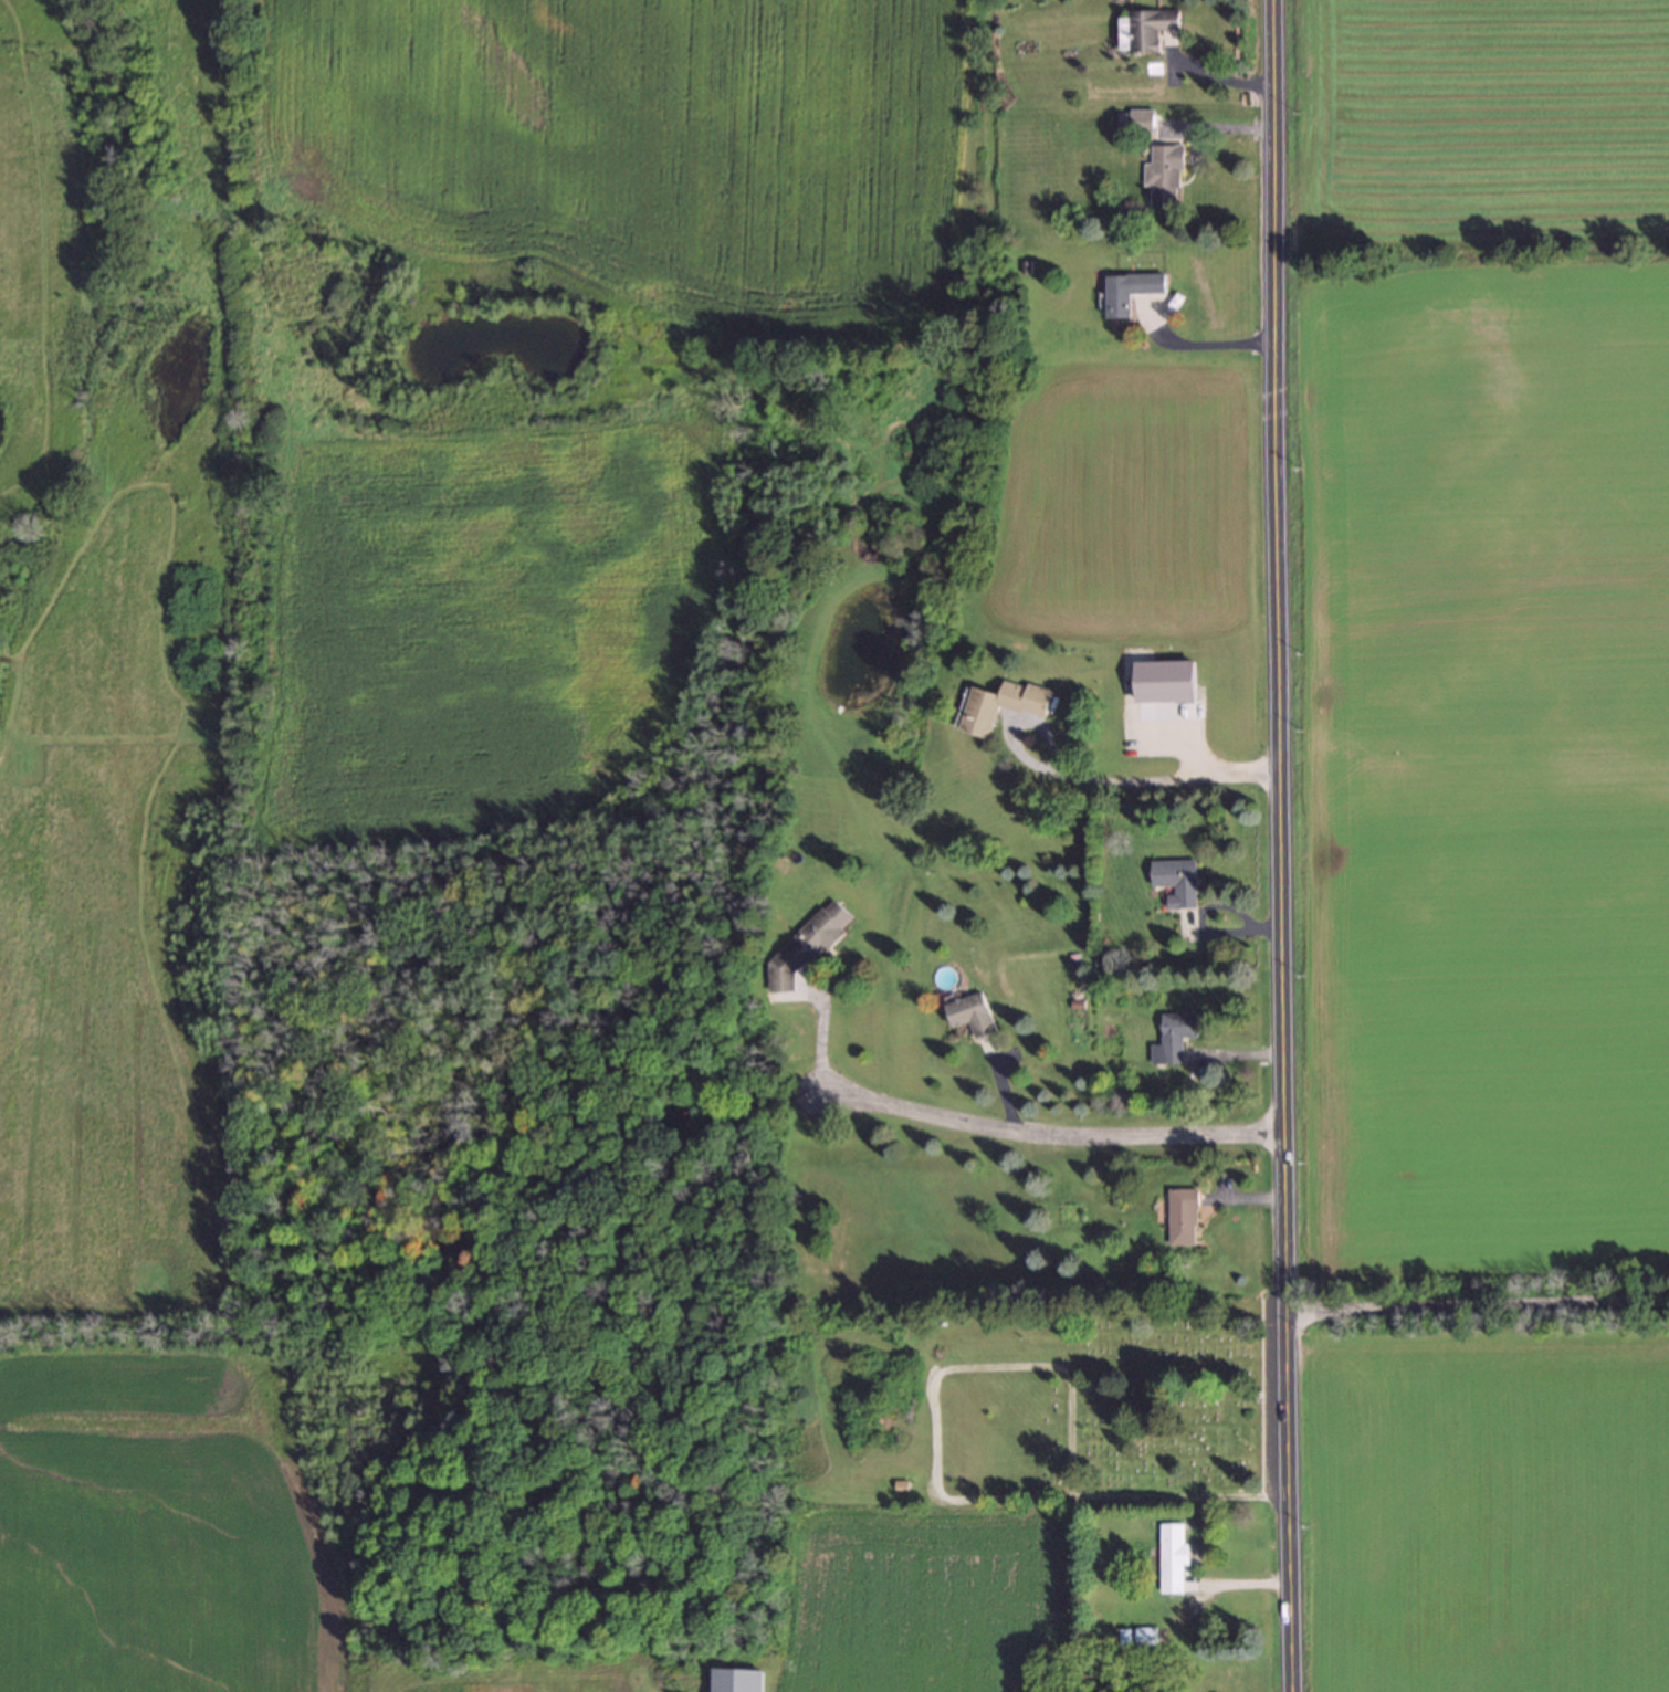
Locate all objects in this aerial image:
building: (1145, 30)
road: (1167, 57)
road: (1216, 78)
building: (1141, 120)
road: (1214, 128)
road: (1194, 144)
building: (1163, 176)
building: (1130, 291)
road: (1192, 345)
building: (1005, 704)
road: (1084, 776)
road: (1277, 845)
building: (1176, 881)
road: (1190, 914)
building: (807, 945)
building: (973, 1015)
road: (819, 1032)
building: (1173, 1038)
road: (1234, 1055)
road: (1195, 1065)
road: (1046, 1134)
road: (1219, 1187)
road: (1241, 1198)
building: (1183, 1216)
road: (1474, 1302)
road: (1112, 1495)
building: (1172, 1557)
road: (1236, 1581)

